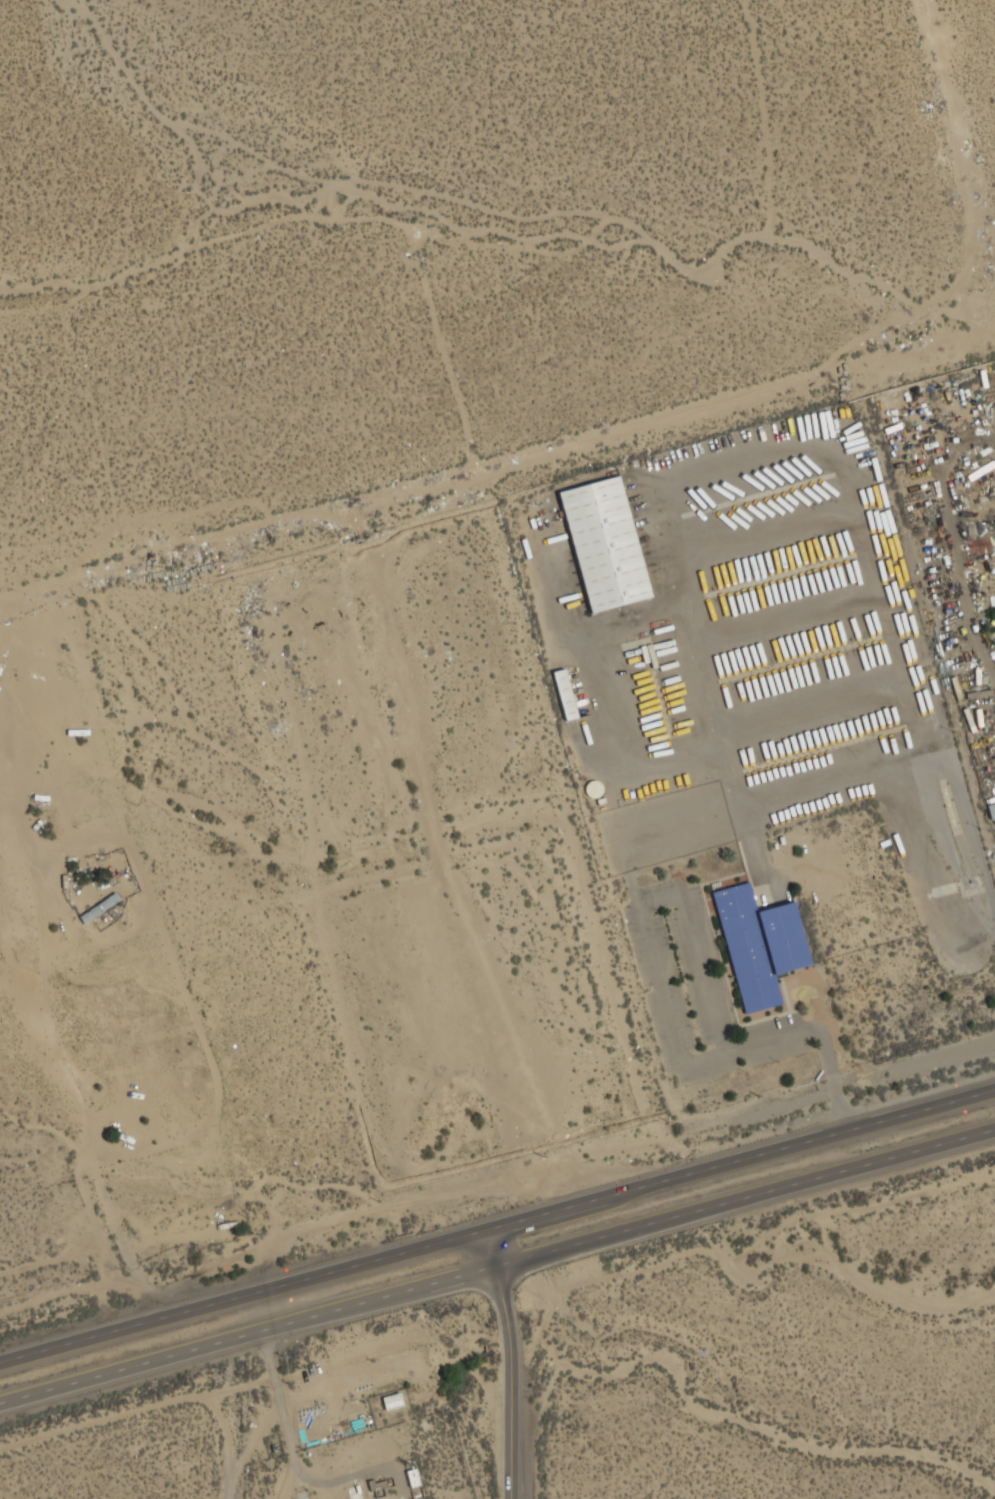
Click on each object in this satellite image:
building: (604, 545)
building: (564, 693)
building: (992, 811)
road: (967, 824)
building: (764, 938)
parking lot: (696, 992)
road: (661, 999)
road: (497, 1228)
road: (628, 1232)
road: (509, 1363)
road: (131, 1369)
road: (290, 1447)

